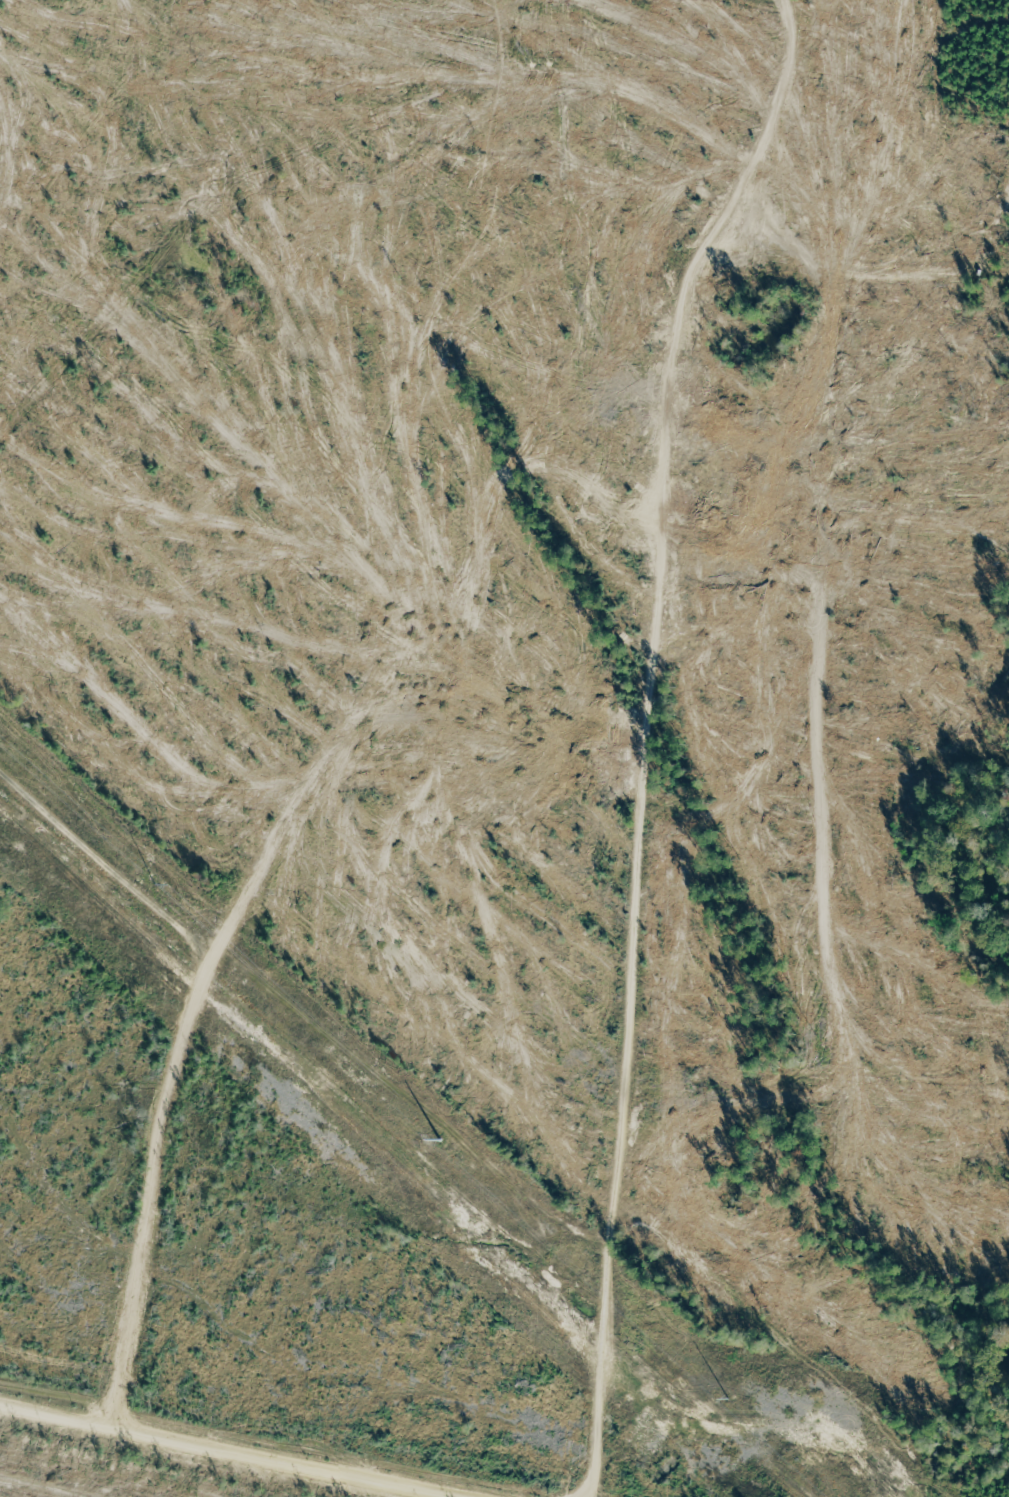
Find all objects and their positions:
road: (675, 829)
power tower: (164, 888)
power tower: (447, 1146)
power tower: (736, 1403)
road: (269, 1445)

